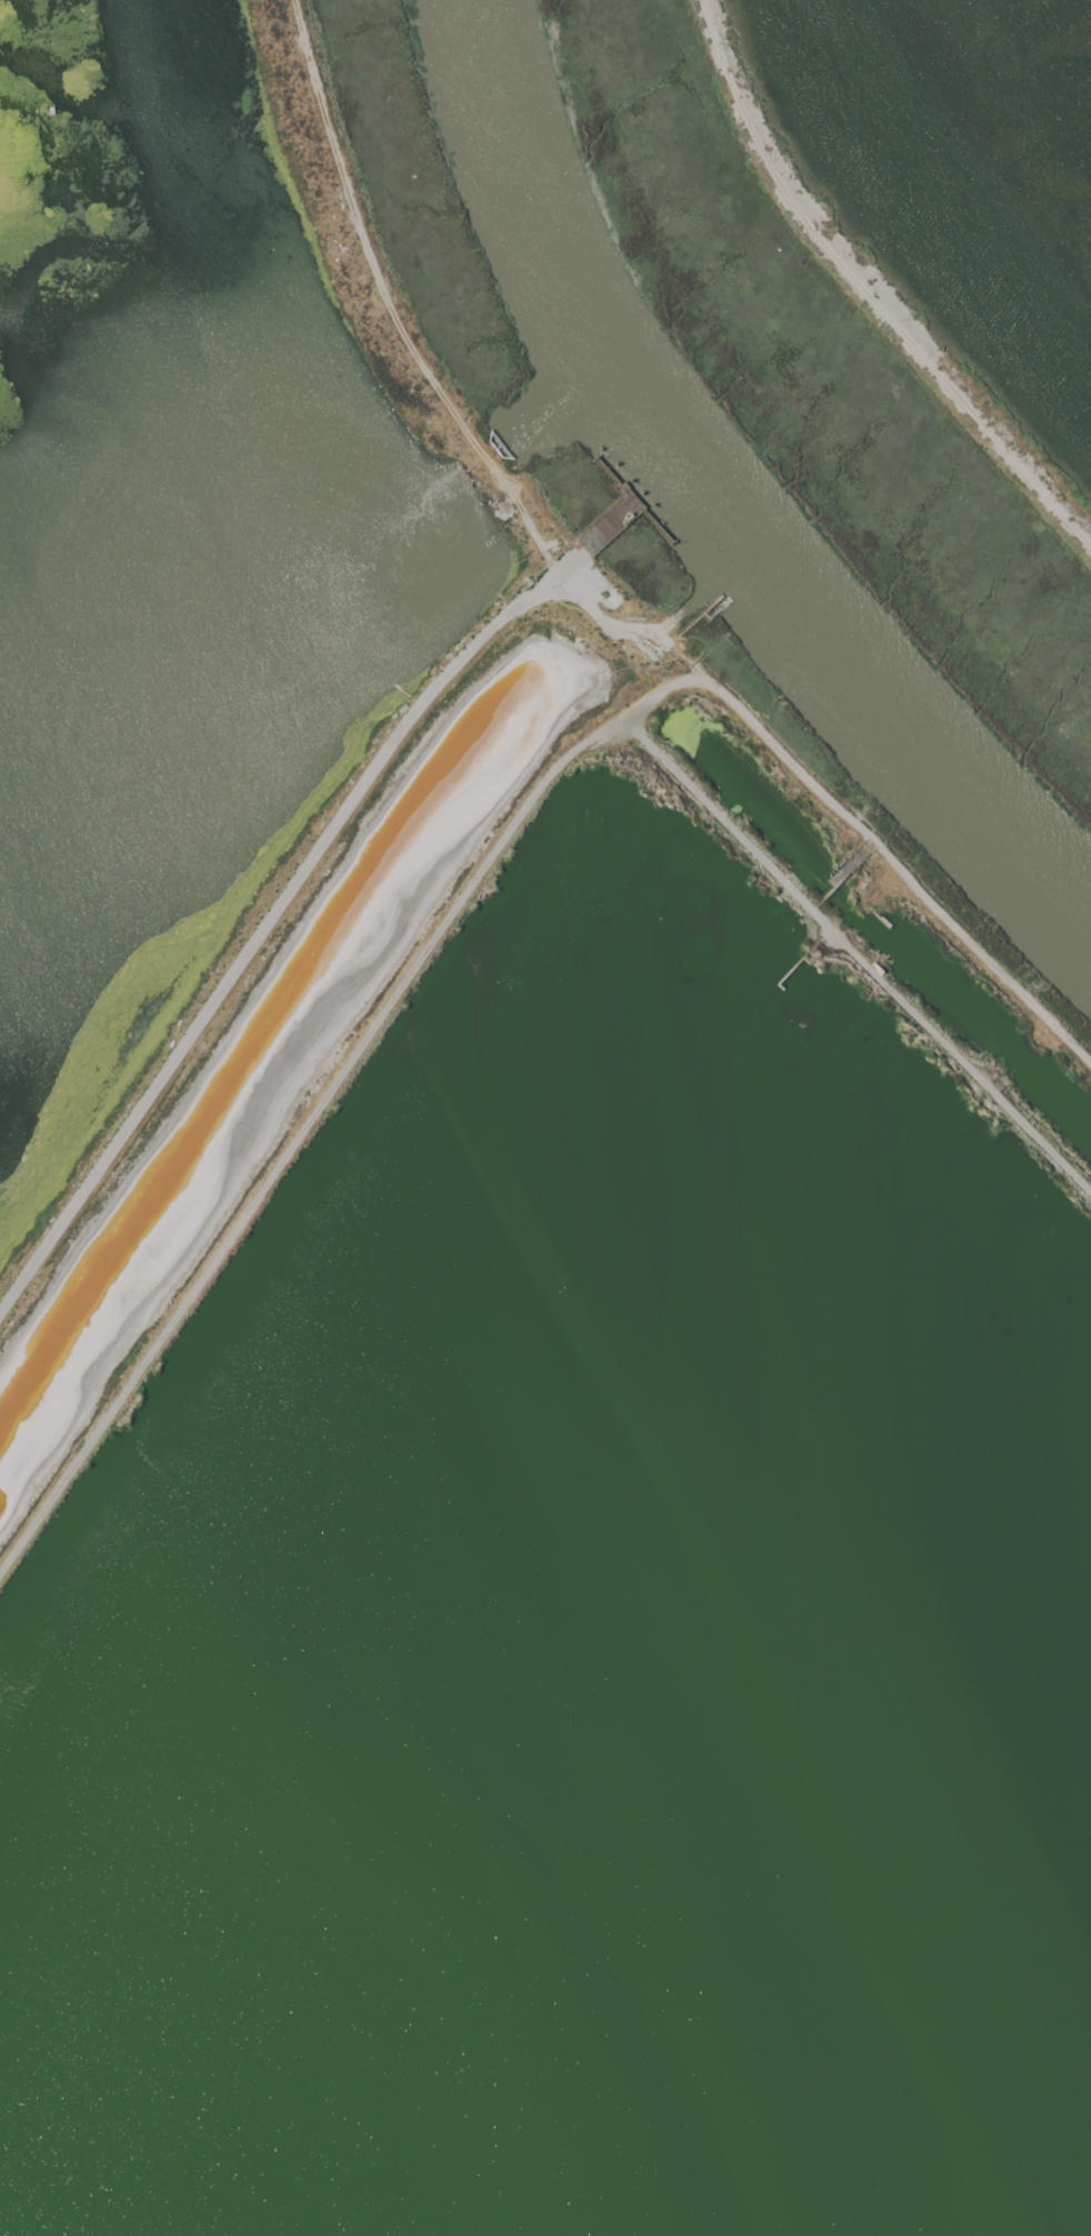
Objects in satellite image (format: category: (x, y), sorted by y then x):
building: (48, 112)
road: (864, 293)
river: (708, 508)
road: (610, 628)
road: (479, 879)
road: (263, 932)
road: (860, 962)

